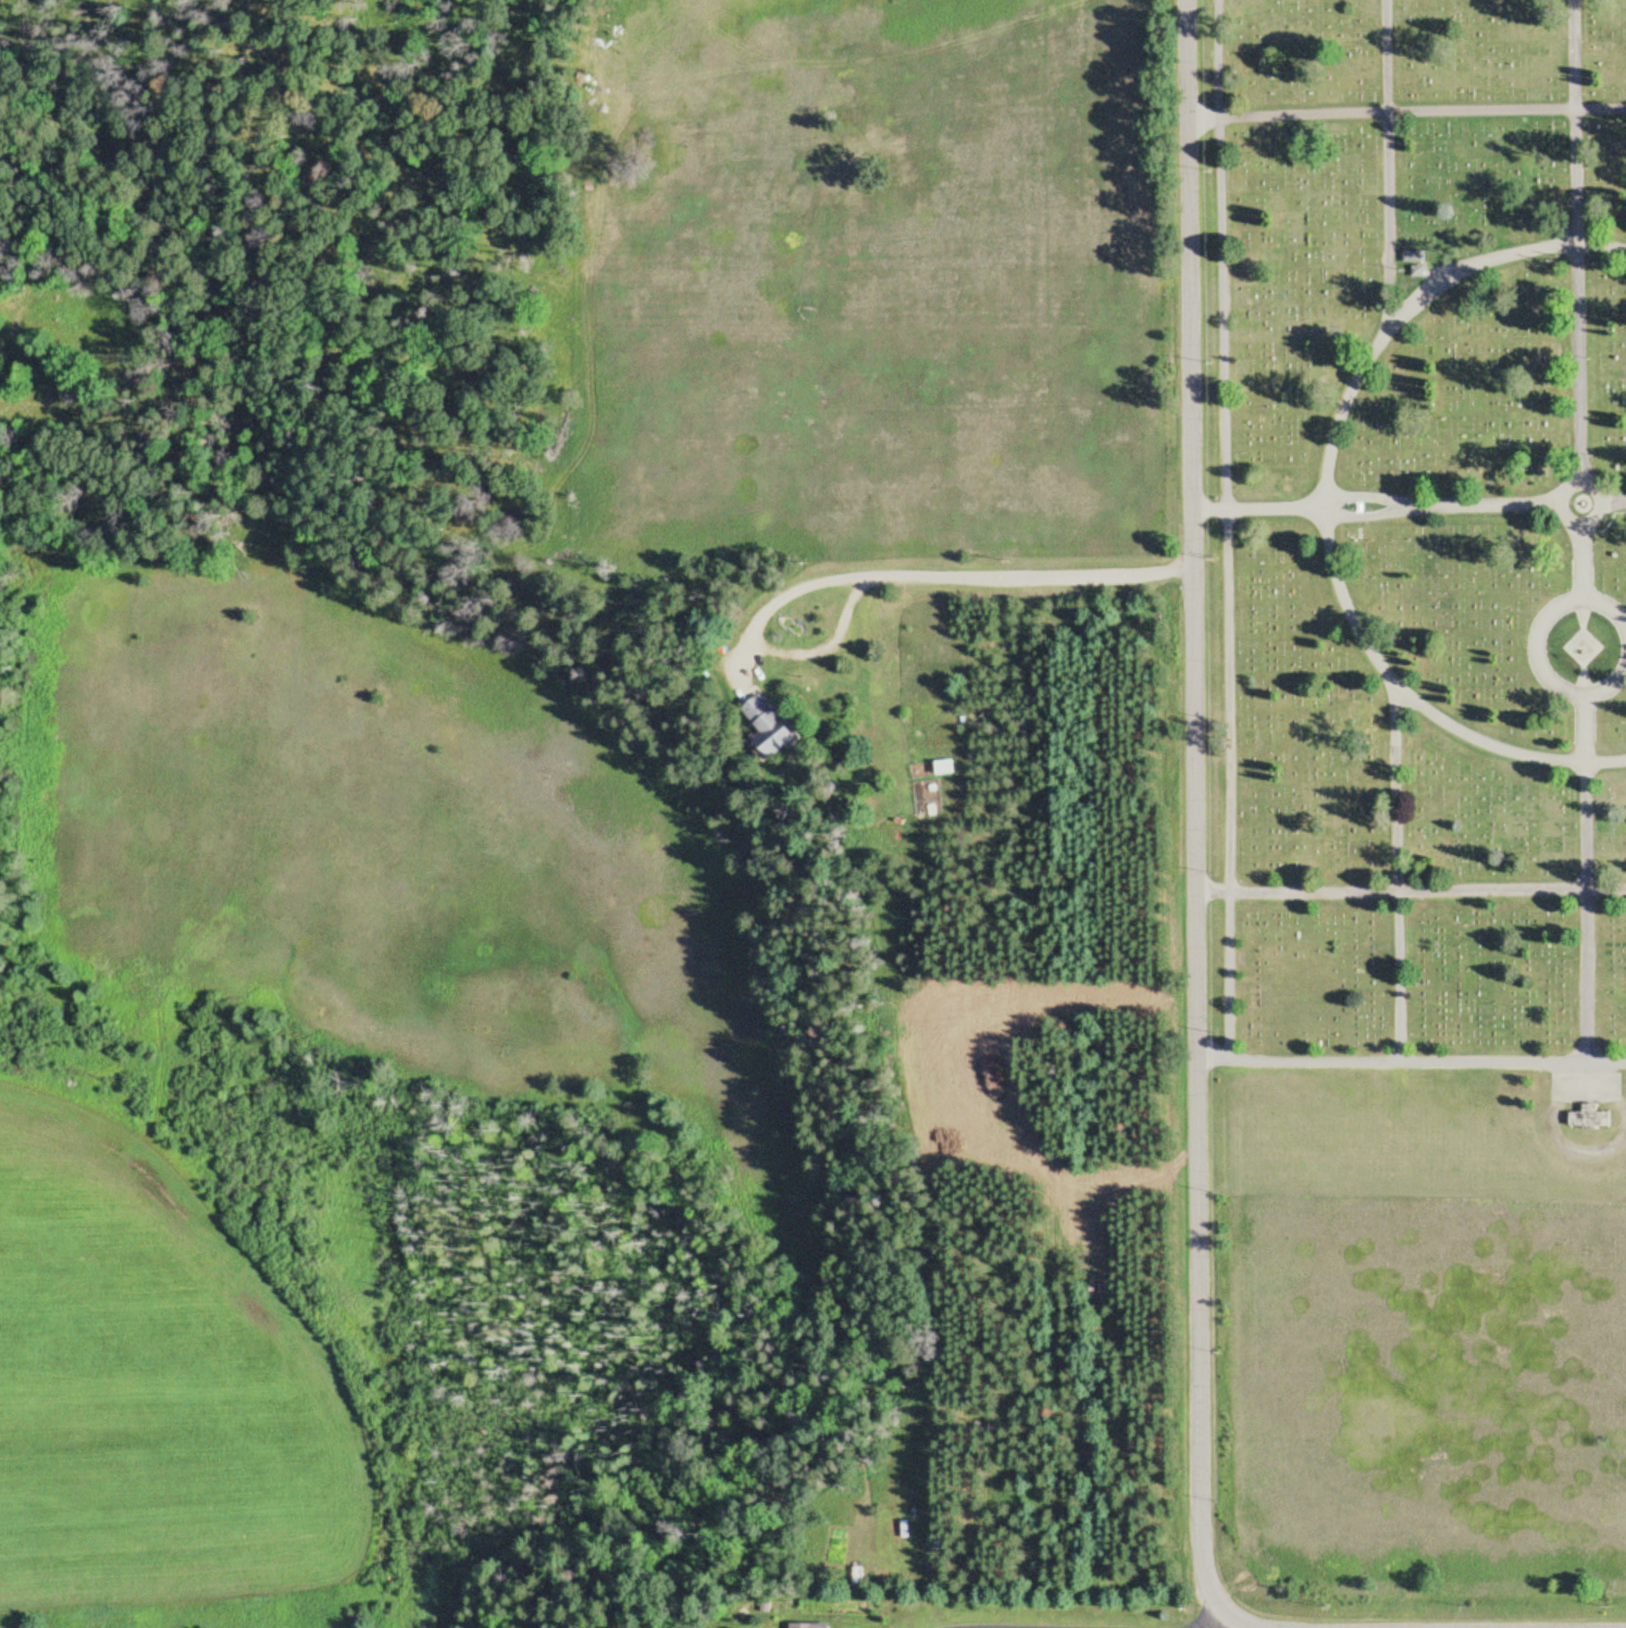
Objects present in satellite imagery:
road: (1404, 113)
road: (1386, 160)
building: (1415, 262)
road: (1324, 504)
road: (1422, 506)
road: (1225, 530)
road: (1579, 530)
road: (1581, 558)
road: (935, 579)
road: (1608, 609)
road: (827, 649)
road: (1609, 688)
building: (771, 726)
park: (1410, 808)
road: (1193, 809)
road: (1398, 875)
road: (1410, 888)
road: (1410, 1062)
building: (1591, 1119)
road: (1133, 1623)
road: (1228, 1623)
building: (812, 1626)

